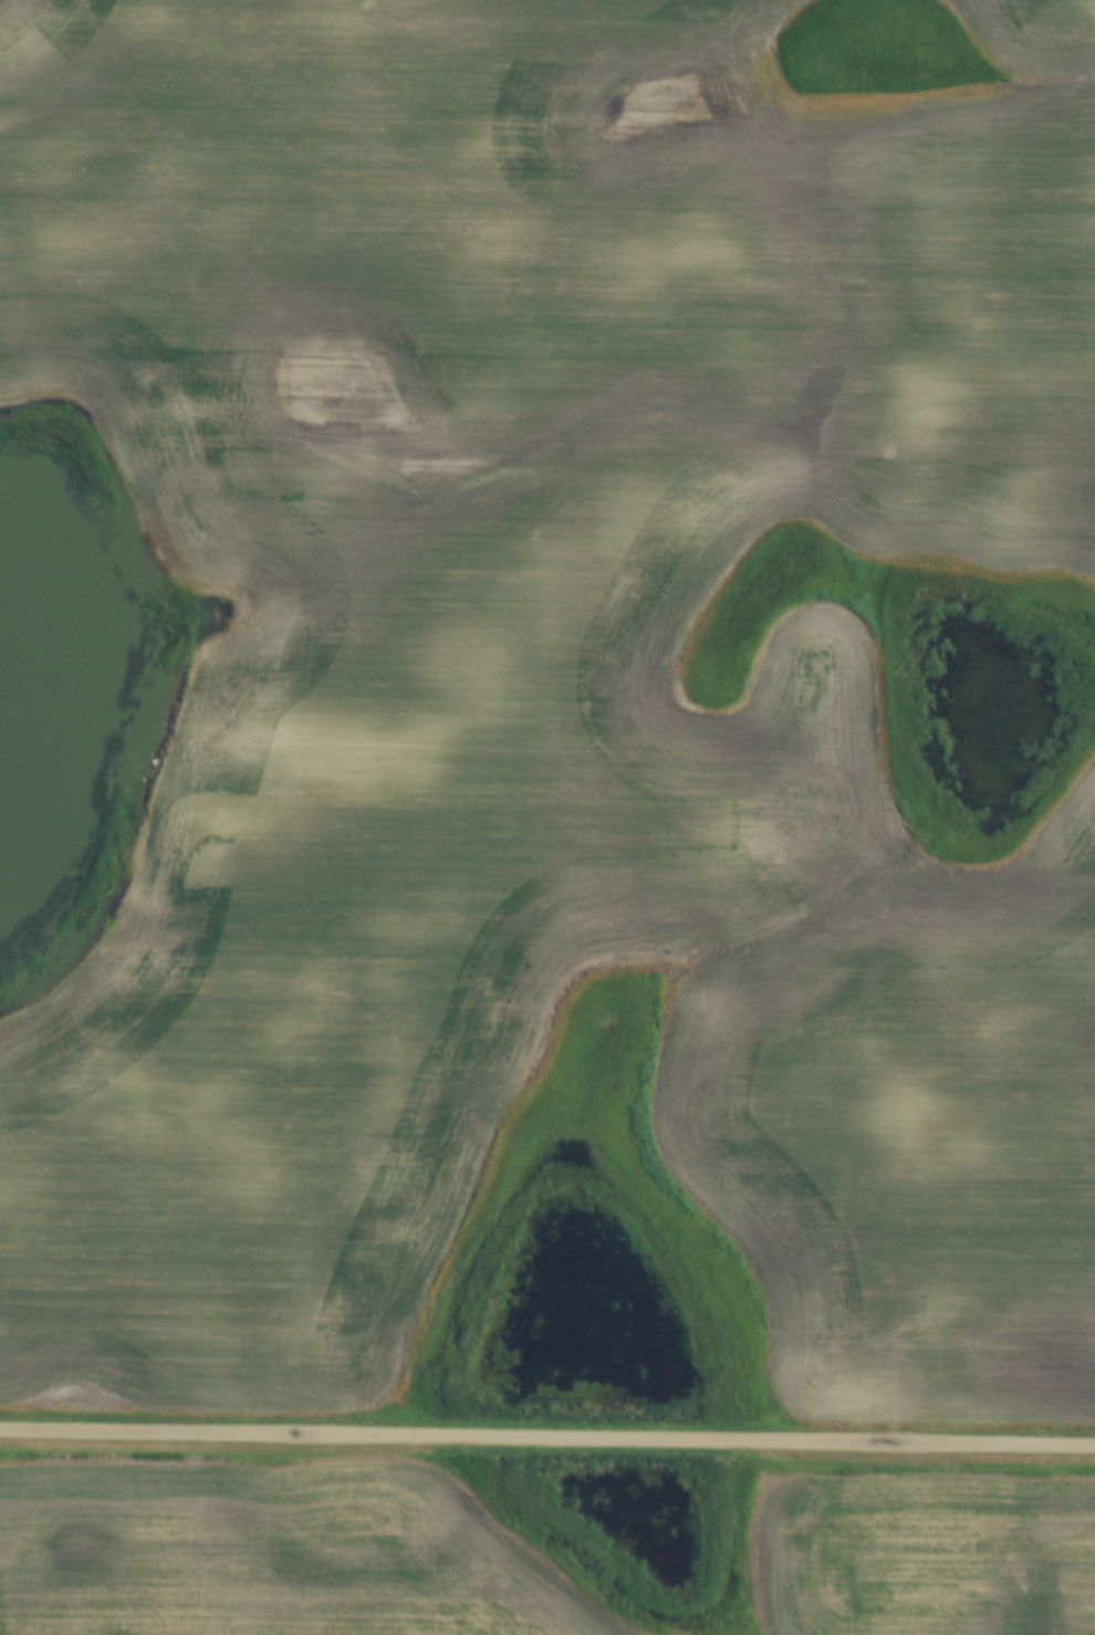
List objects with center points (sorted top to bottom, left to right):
road: (547, 1441)

